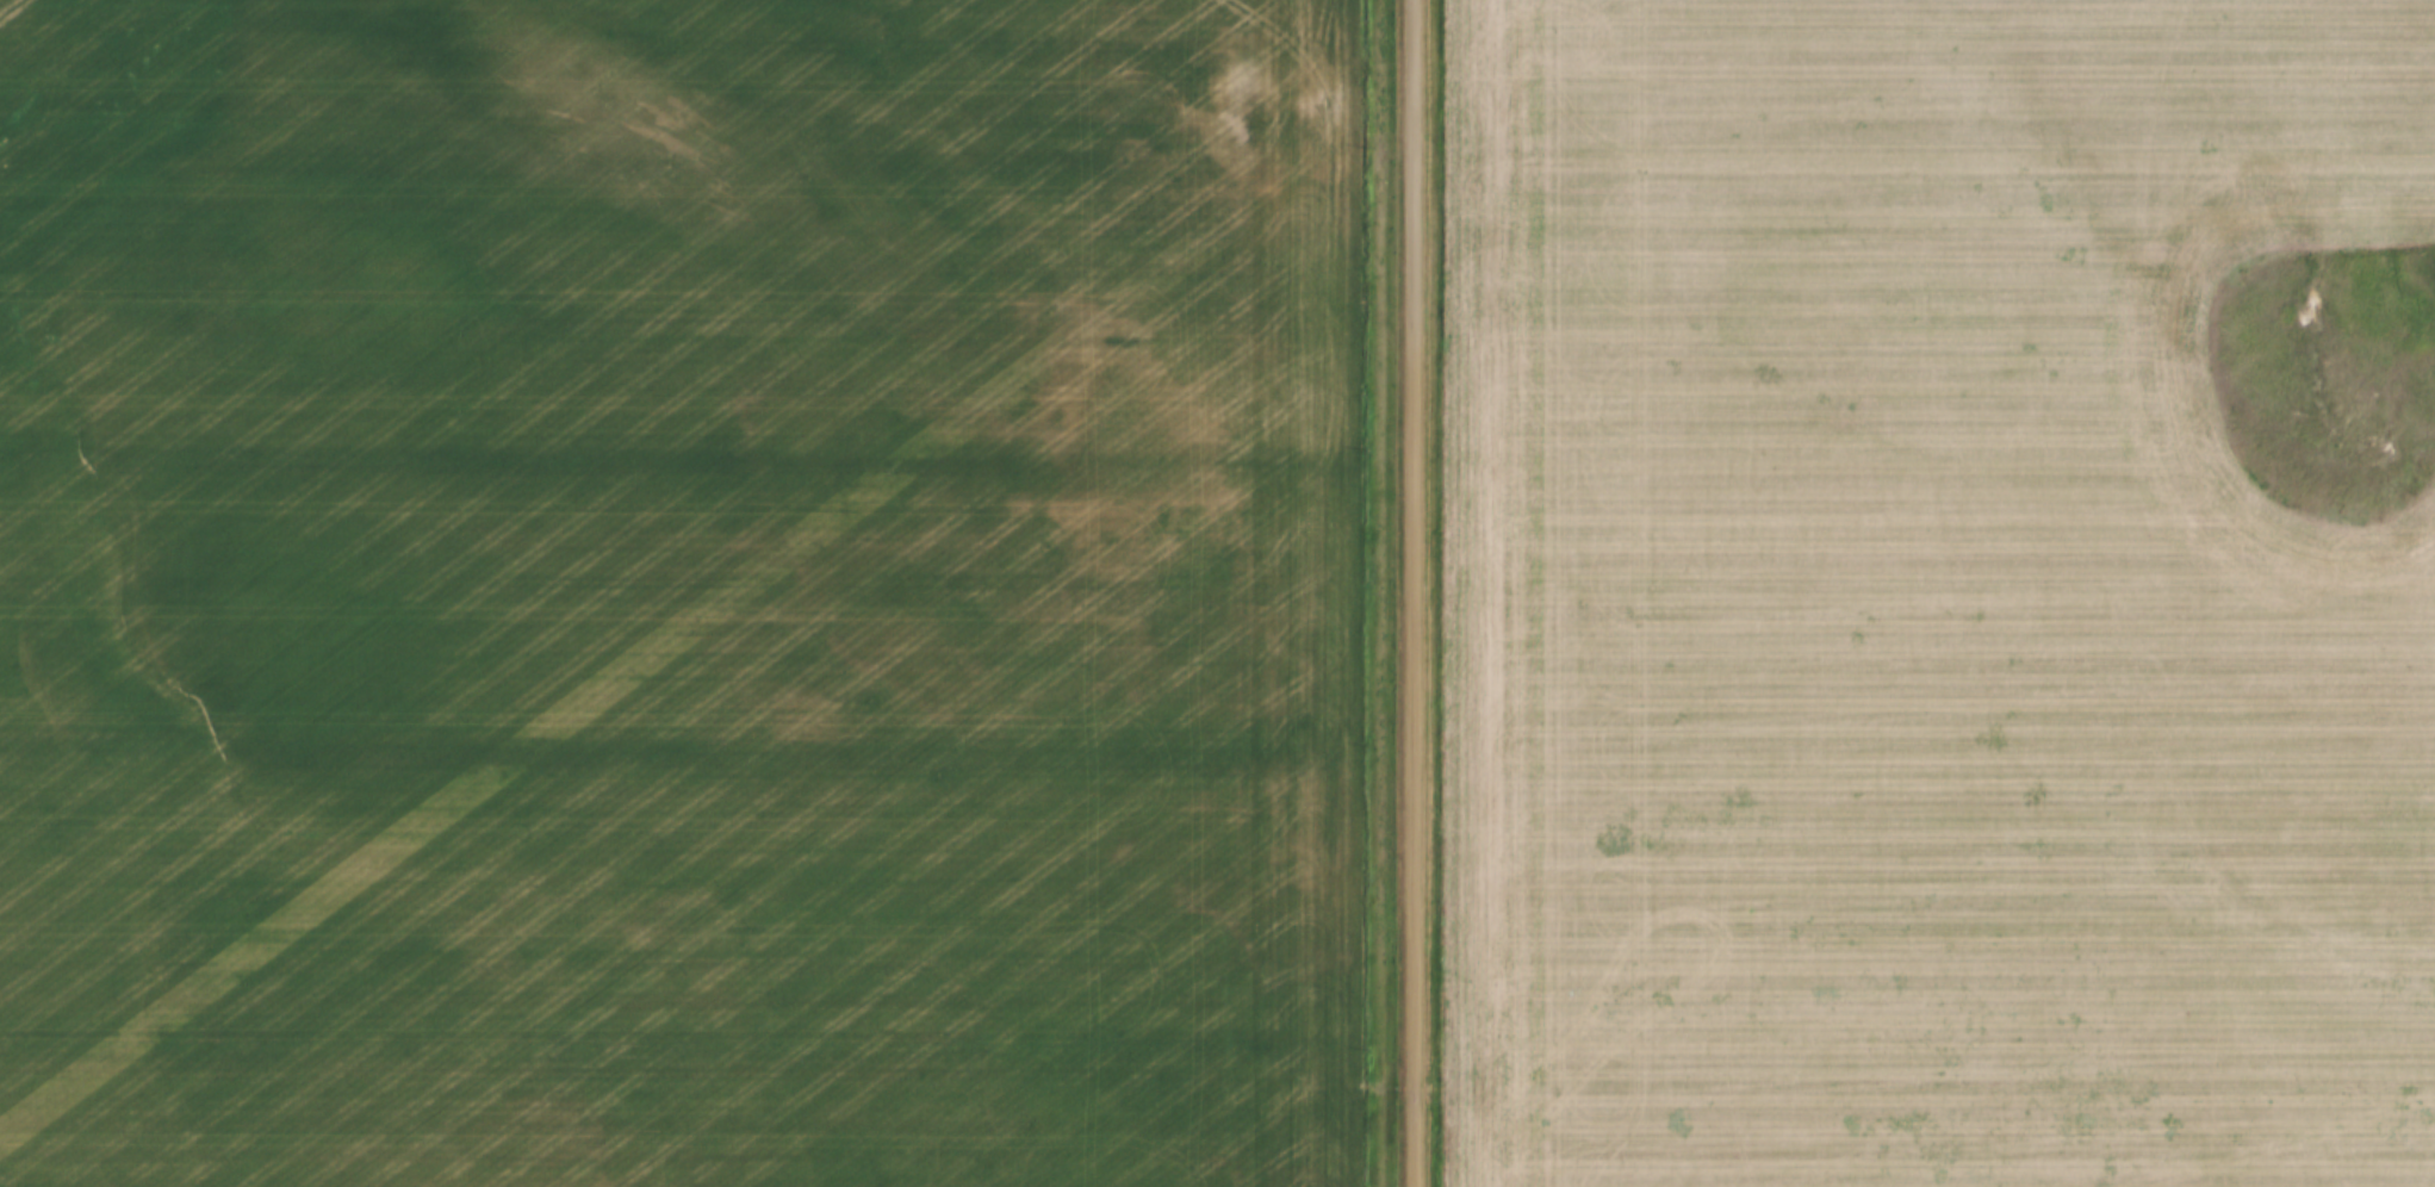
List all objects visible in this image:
road: (1415, 593)

